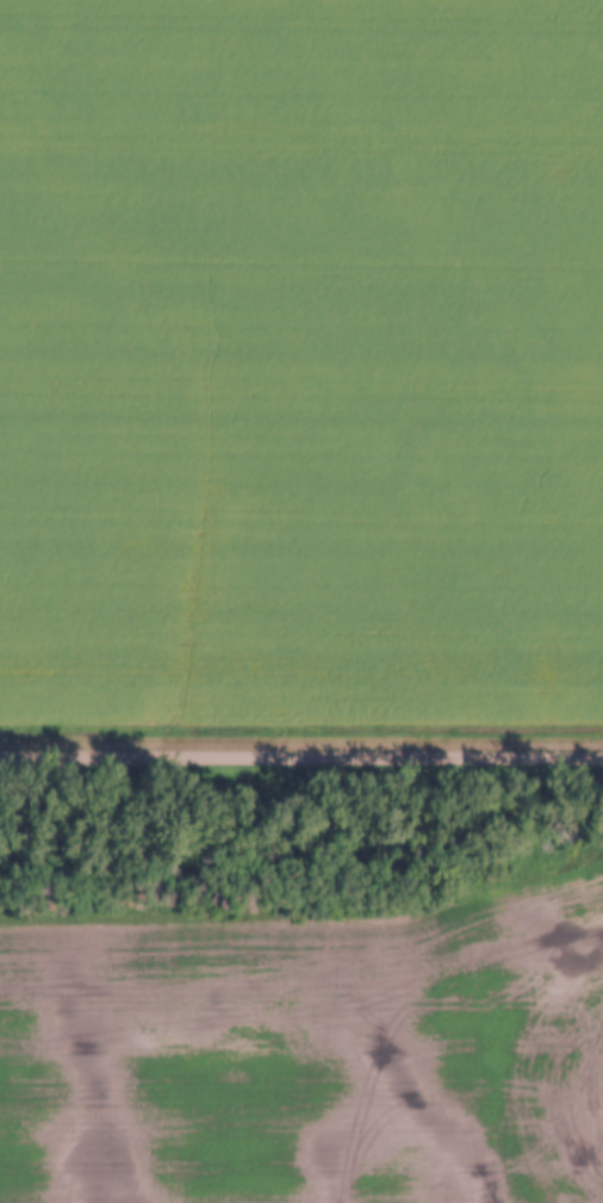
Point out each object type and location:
road: (301, 754)

